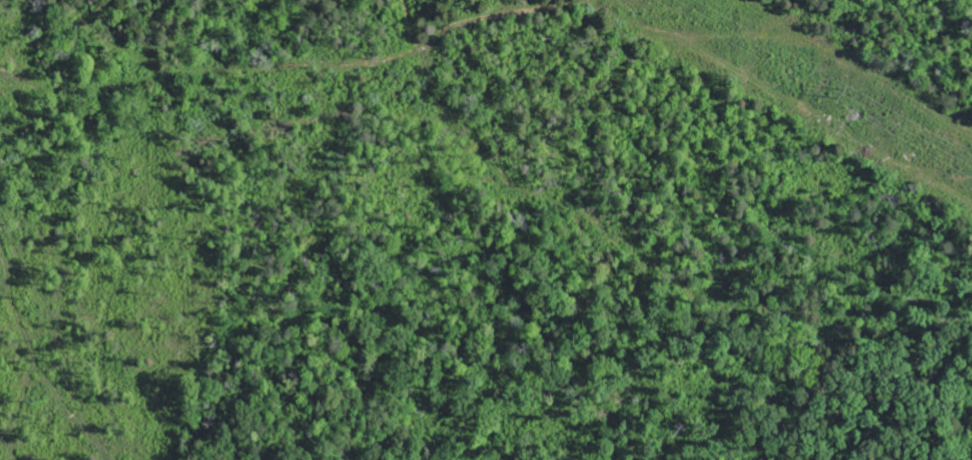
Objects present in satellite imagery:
power tower: (836, 90)

